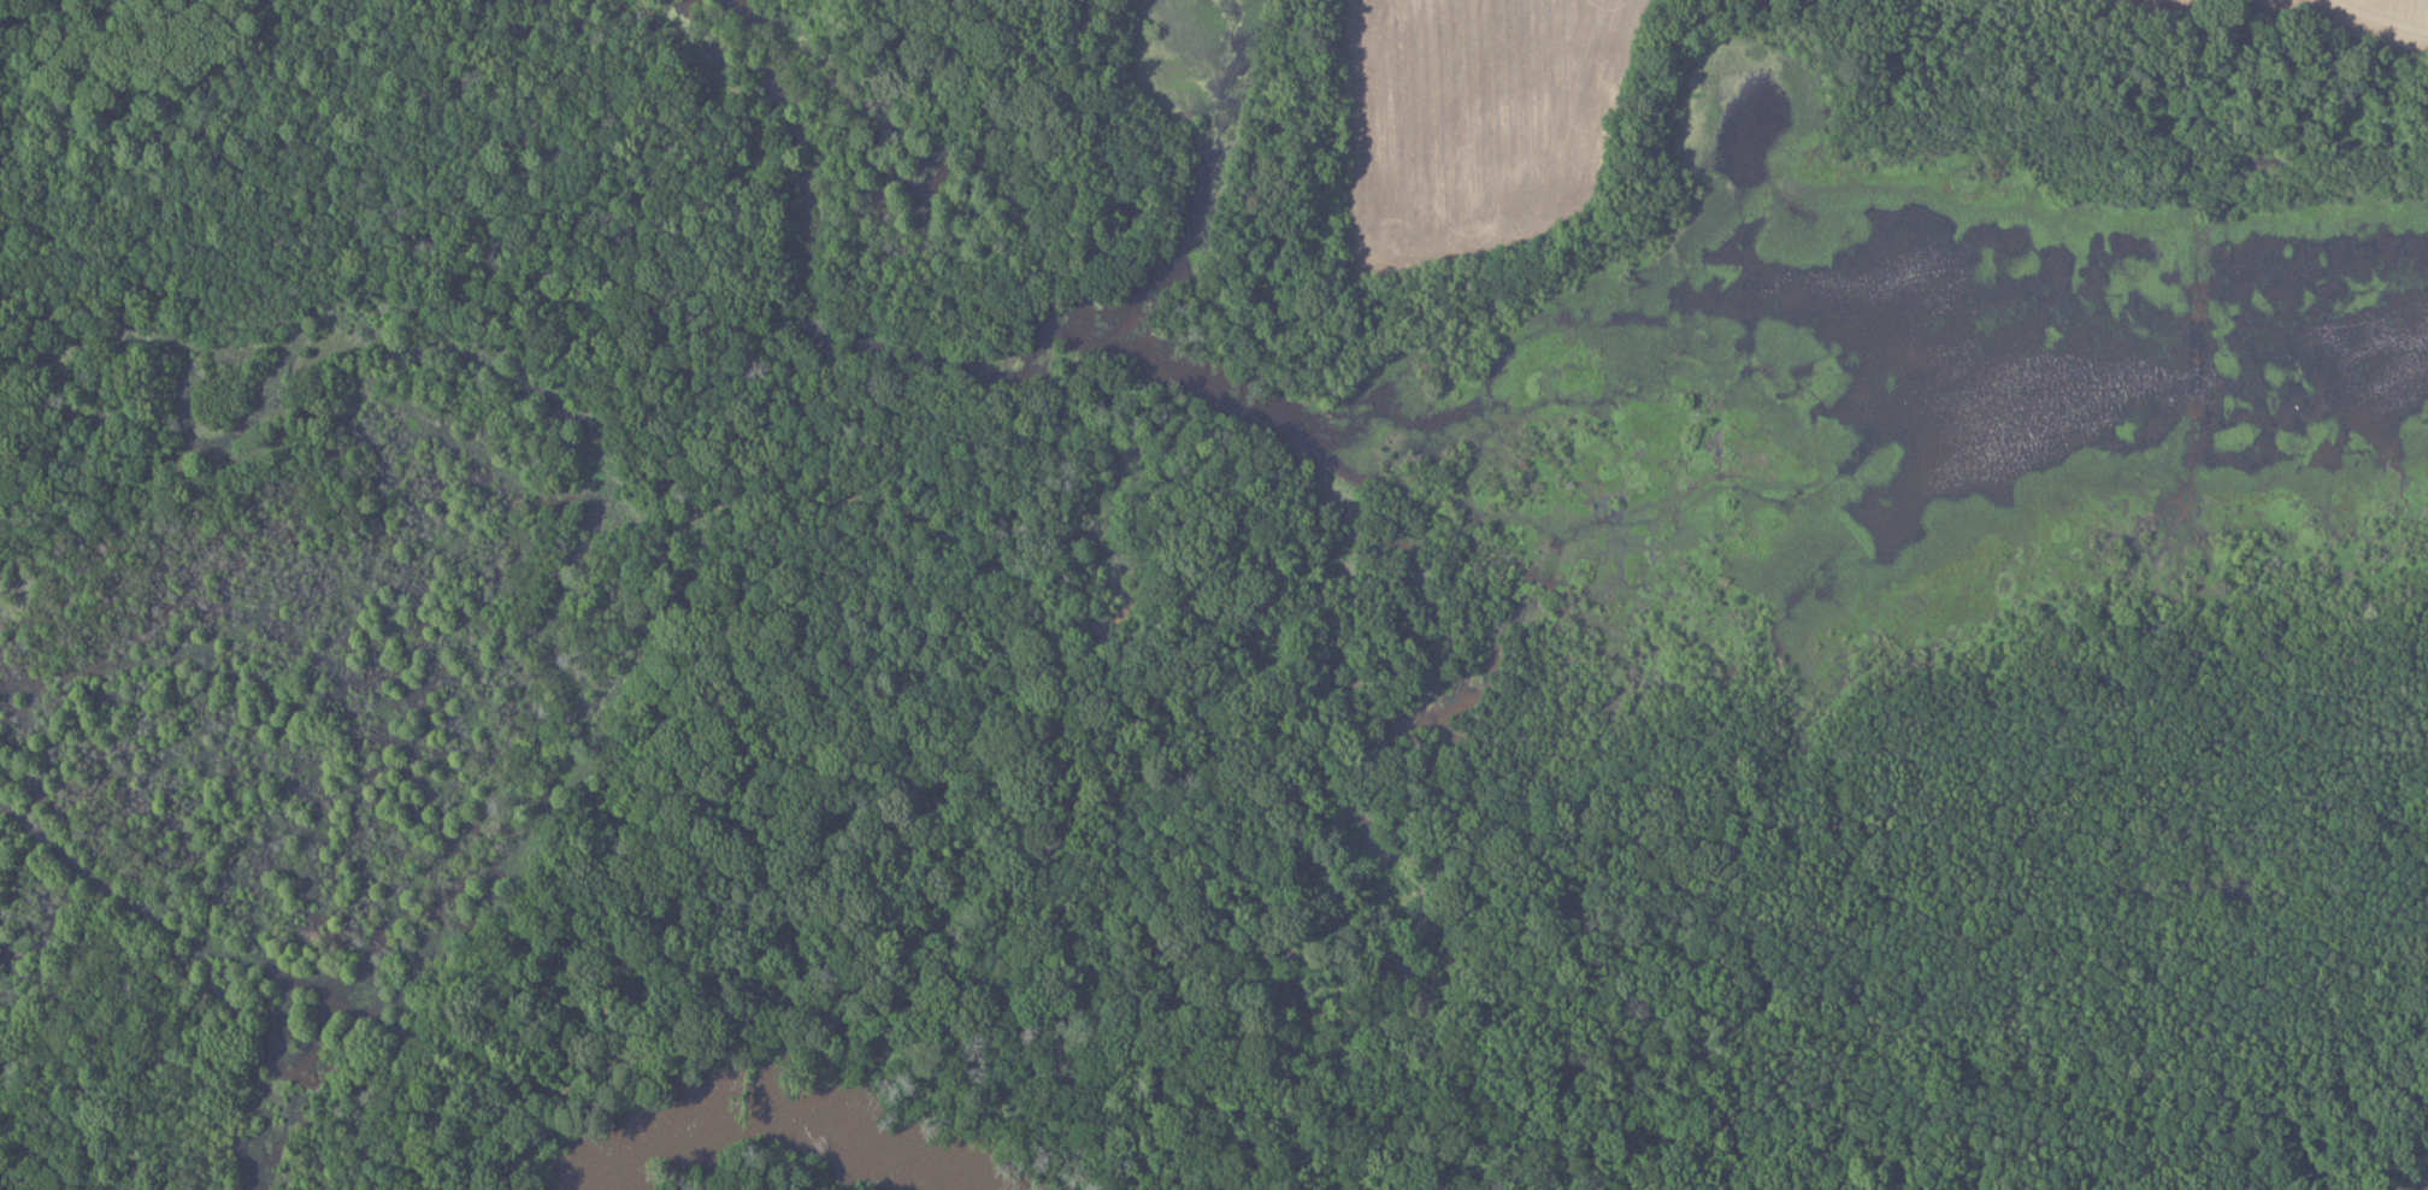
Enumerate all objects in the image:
river: (800, 1115)

